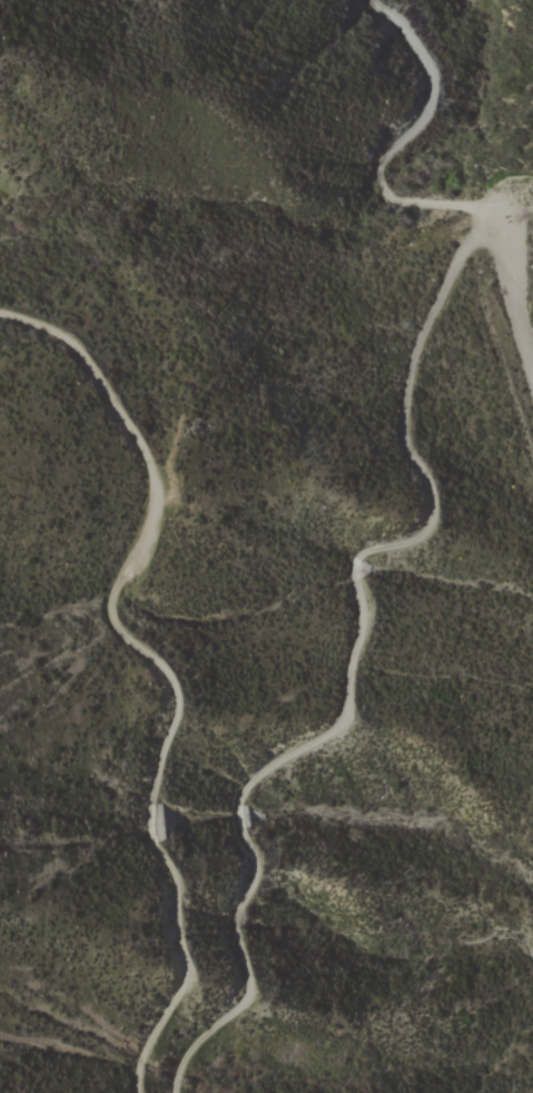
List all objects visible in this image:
road: (397, 197)
road: (349, 664)
road: (158, 667)

